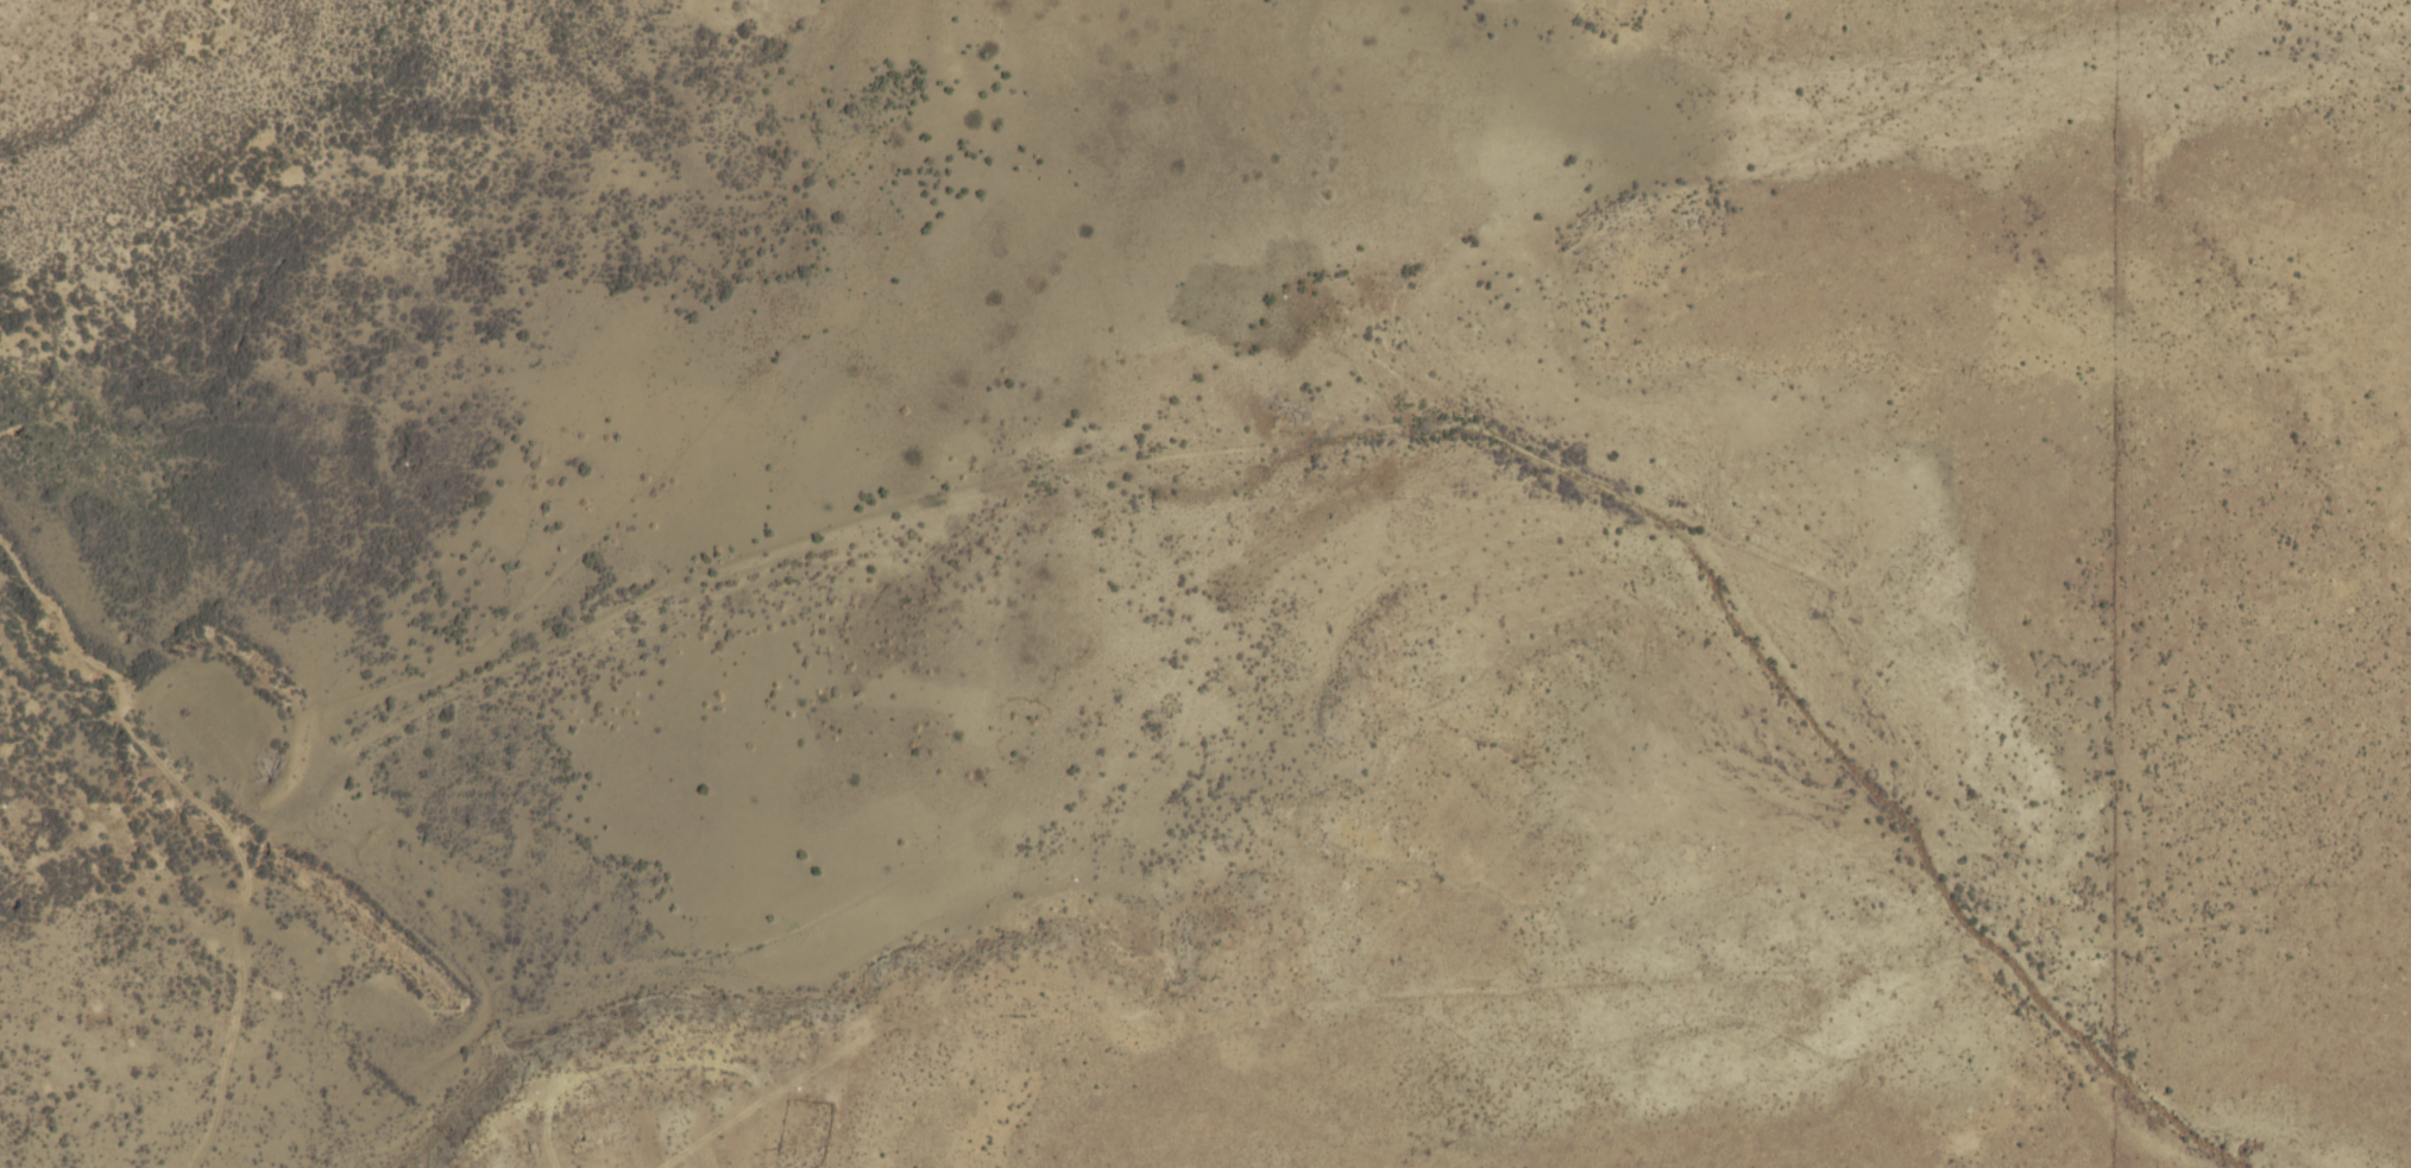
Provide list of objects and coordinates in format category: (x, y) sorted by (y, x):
river: (327, 490)
road: (219, 817)
road: (634, 1066)
road: (780, 1085)

